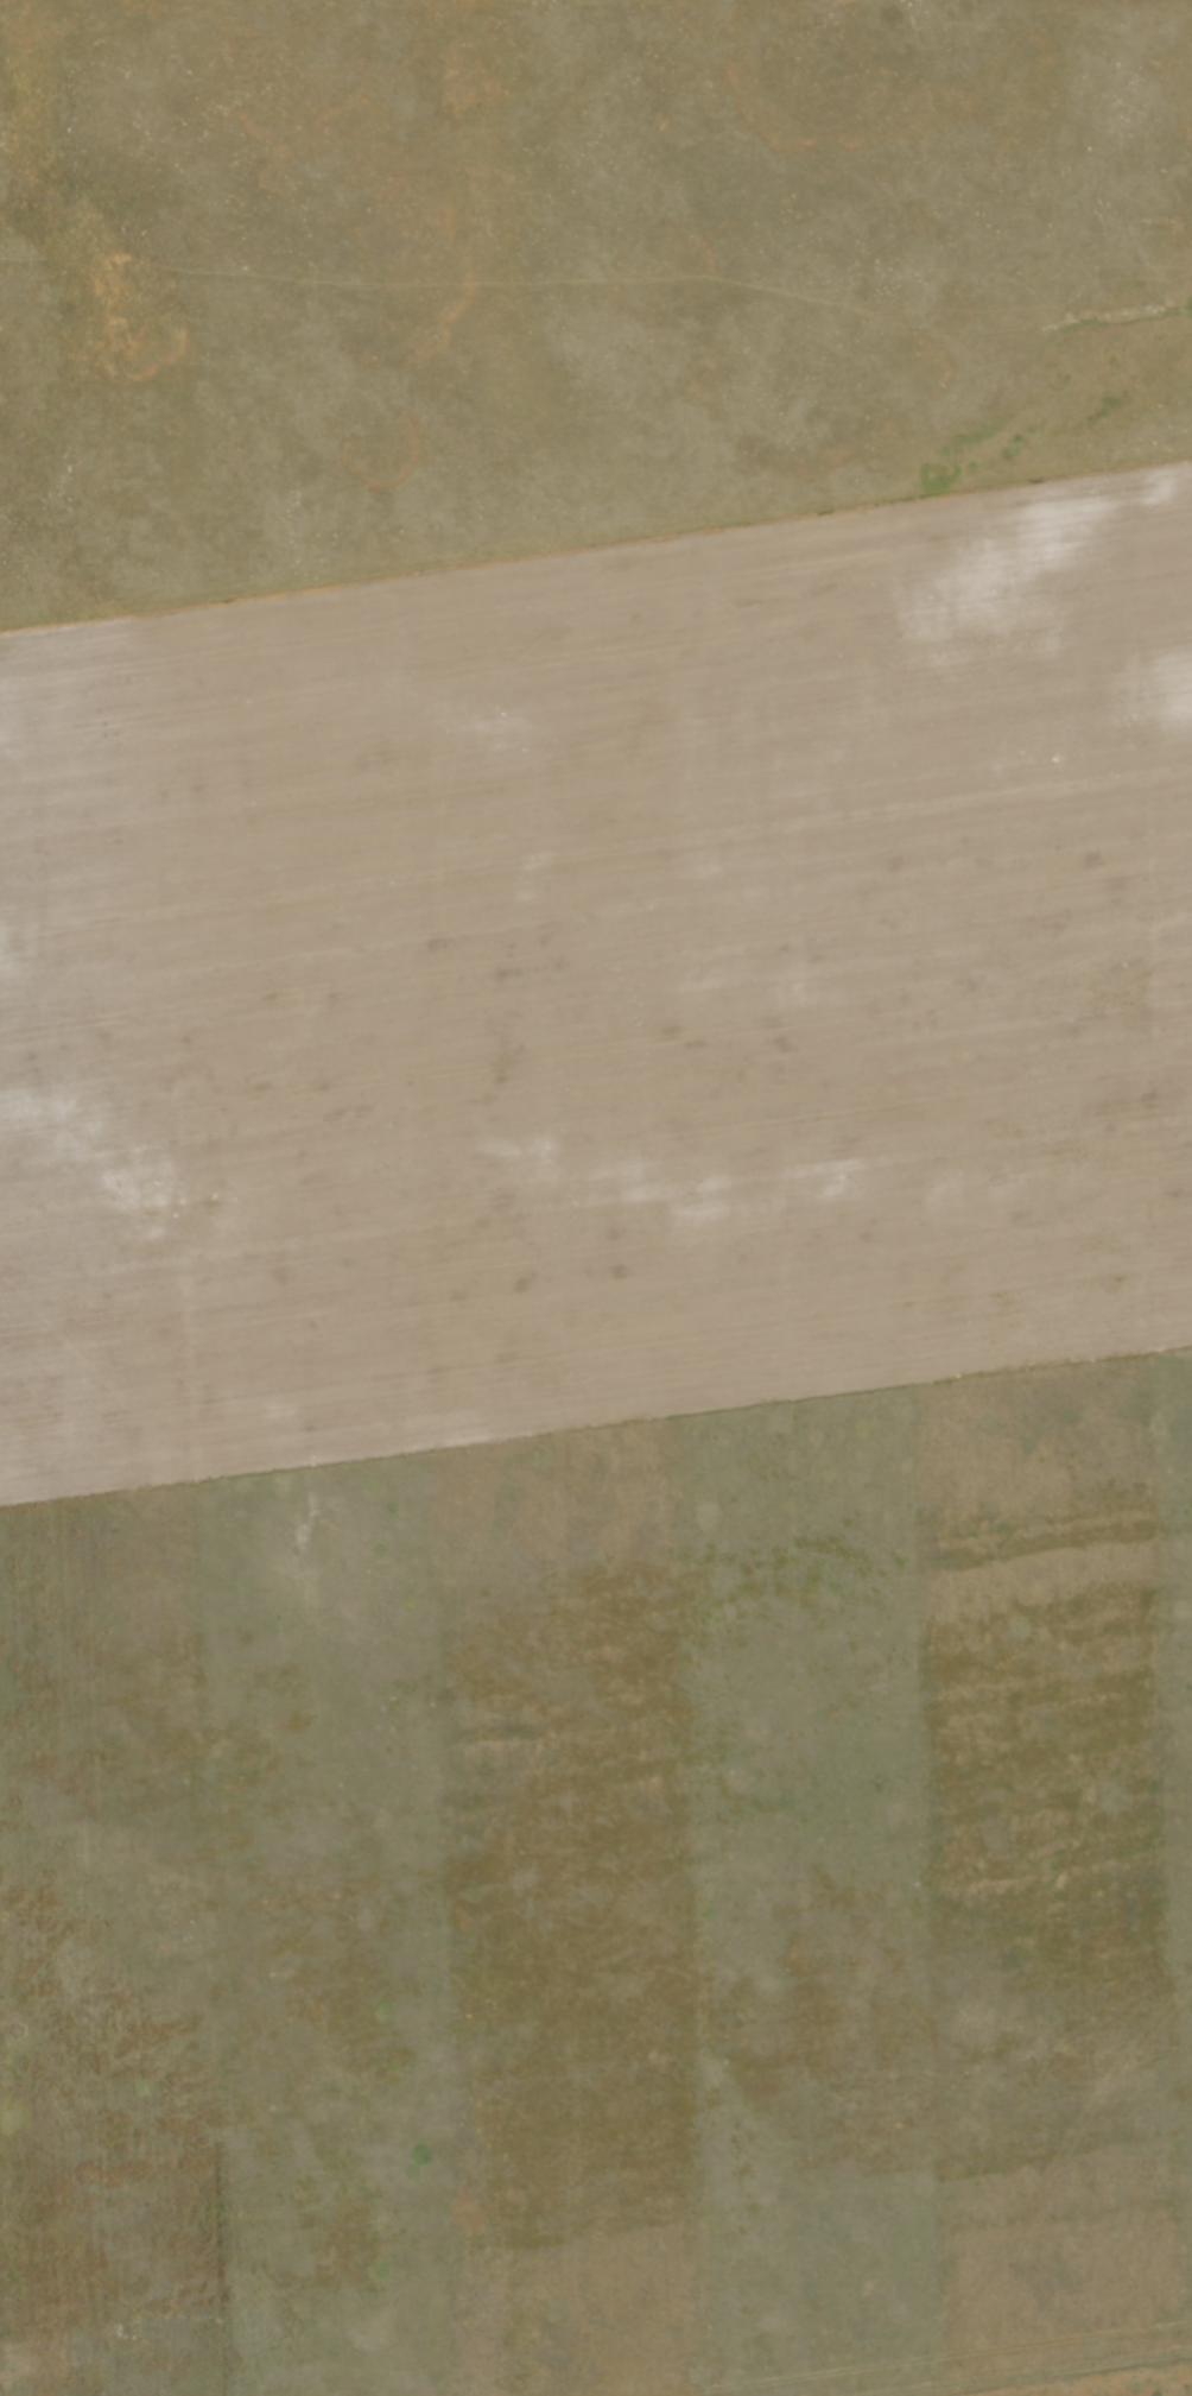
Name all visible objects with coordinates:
road: (1059, 2376)

